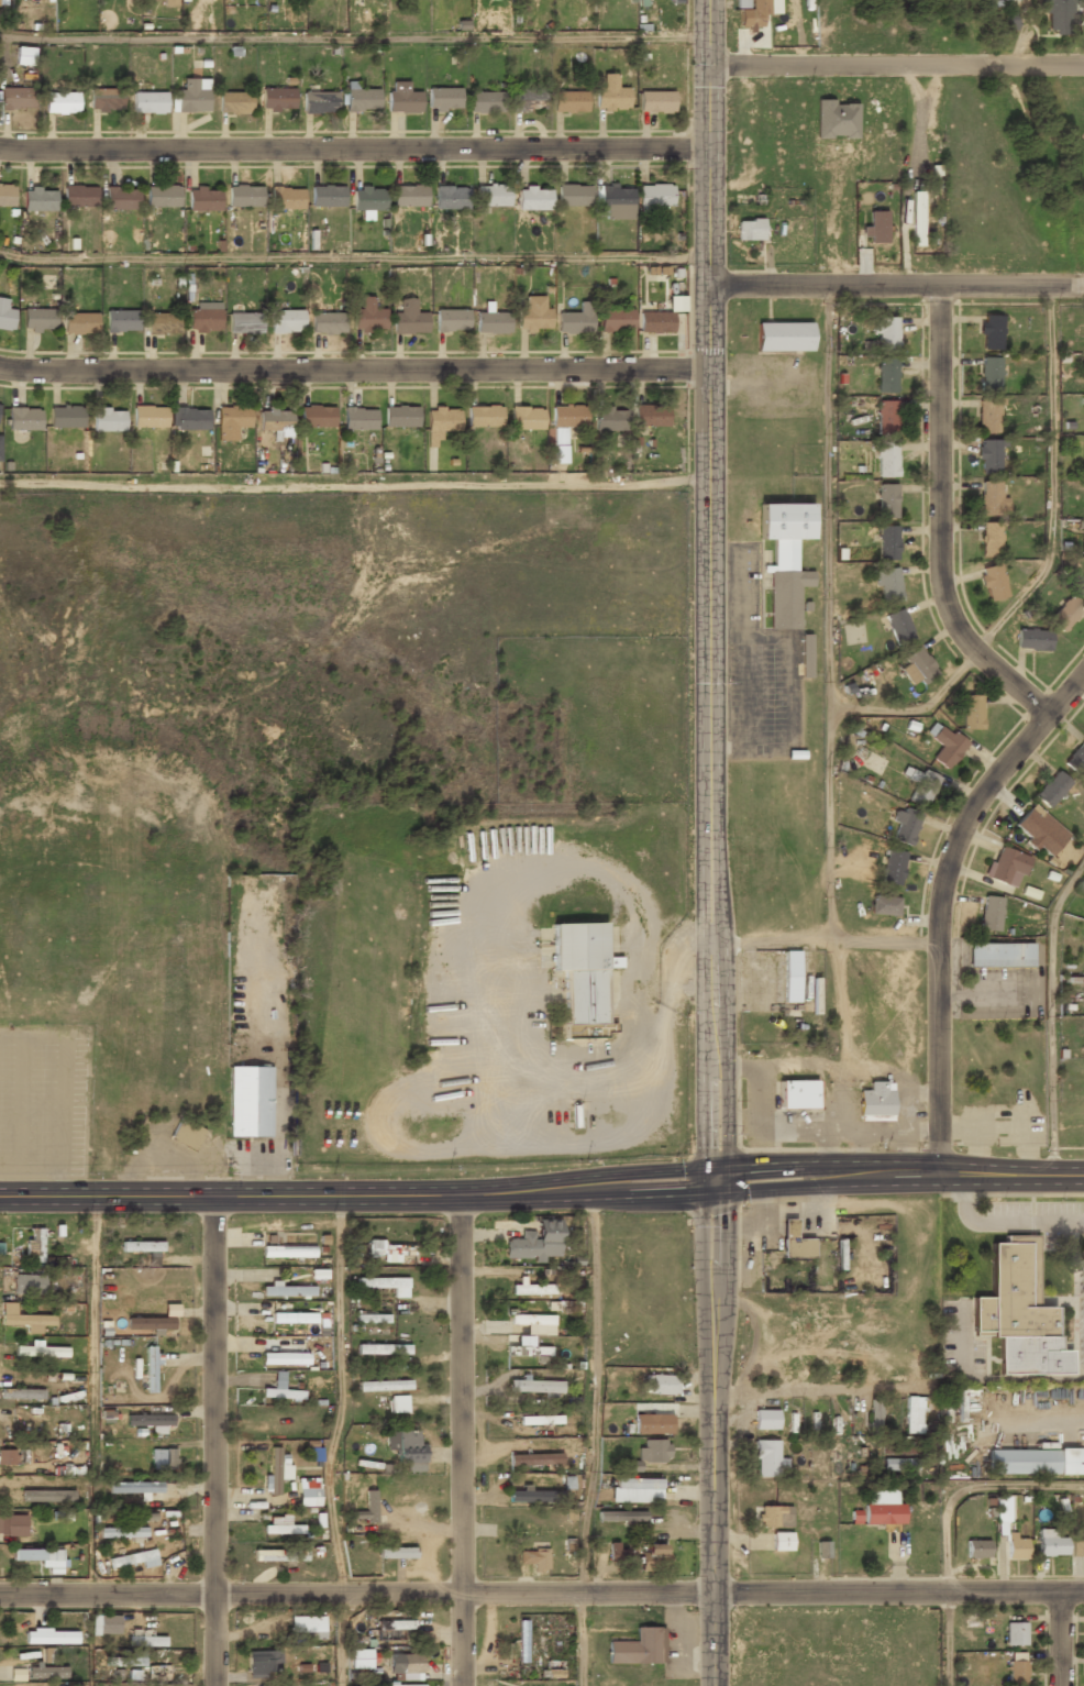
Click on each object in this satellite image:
building: (170, 3)
building: (752, 13)
building: (1057, 15)
building: (1011, 19)
road: (353, 37)
building: (25, 55)
road: (896, 66)
road: (708, 75)
building: (610, 95)
building: (191, 96)
building: (401, 97)
building: (443, 97)
building: (361, 98)
building: (15, 99)
building: (277, 99)
building: (529, 99)
building: (104, 100)
building: (485, 100)
building: (655, 100)
building: (319, 101)
building: (569, 101)
building: (234, 102)
building: (60, 103)
building: (148, 103)
building: (836, 119)
road: (353, 150)
building: (491, 194)
building: (654, 195)
building: (7, 196)
building: (244, 196)
building: (327, 196)
building: (409, 196)
building: (451, 196)
building: (573, 196)
building: (80, 197)
building: (162, 197)
building: (203, 198)
building: (286, 198)
building: (369, 198)
building: (533, 198)
building: (122, 199)
building: (40, 200)
building: (616, 202)
building: (916, 218)
building: (877, 227)
building: (748, 229)
road: (354, 258)
road: (896, 286)
building: (5, 315)
building: (368, 315)
building: (533, 315)
building: (408, 318)
building: (204, 319)
building: (575, 319)
building: (38, 320)
building: (122, 320)
building: (451, 320)
building: (615, 320)
building: (655, 321)
building: (80, 322)
building: (162, 322)
building: (286, 322)
building: (491, 322)
building: (244, 323)
building: (327, 323)
building: (885, 332)
building: (989, 332)
building: (783, 337)
road: (354, 370)
building: (988, 373)
building: (885, 375)
building: (0, 404)
building: (650, 415)
building: (988, 415)
building: (317, 416)
building: (400, 416)
building: (484, 416)
building: (886, 416)
building: (66, 417)
building: (148, 417)
building: (567, 417)
building: (189, 418)
building: (358, 418)
building: (527, 418)
building: (609, 418)
building: (24, 419)
building: (108, 420)
building: (275, 420)
building: (231, 421)
building: (441, 421)
building: (561, 444)
building: (0, 449)
building: (988, 455)
building: (886, 459)
road: (354, 486)
building: (991, 497)
building: (886, 498)
road: (940, 521)
building: (989, 538)
building: (886, 541)
building: (784, 558)
road: (1044, 565)
building: (993, 581)
building: (887, 583)
building: (1081, 586)
building: (1065, 611)
road: (828, 613)
building: (898, 627)
building: (1032, 638)
building: (805, 655)
road: (709, 663)
building: (918, 665)
parking lot: (756, 668)
building: (972, 710)
building: (944, 745)
building: (1075, 758)
building: (920, 785)
building: (1051, 789)
building: (904, 827)
building: (1038, 831)
building: (893, 867)
building: (1006, 867)
road: (939, 900)
building: (883, 905)
building: (989, 913)
road: (823, 939)
building: (998, 955)
building: (582, 973)
building: (790, 977)
road: (1049, 1013)
building: (796, 1095)
parking lot: (45, 1099)
building: (250, 1102)
building: (874, 1103)
building: (186, 1136)
road: (542, 1189)
building: (535, 1242)
building: (794, 1242)
building: (34, 1245)
building: (141, 1246)
building: (287, 1250)
building: (388, 1252)
building: (386, 1285)
building: (27, 1286)
building: (533, 1290)
building: (287, 1291)
building: (1018, 1313)
building: (22, 1318)
building: (294, 1319)
building: (372, 1319)
building: (532, 1323)
building: (148, 1325)
building: (381, 1348)
building: (527, 1349)
building: (285, 1359)
building: (151, 1369)
building: (384, 1385)
building: (661, 1385)
building: (534, 1386)
road: (594, 1389)
building: (279, 1390)
building: (21, 1395)
road: (339, 1396)
building: (397, 1403)
building: (874, 1414)
building: (912, 1415)
building: (540, 1420)
building: (764, 1420)
building: (150, 1421)
building: (651, 1424)
road: (712, 1431)
road: (461, 1440)
road: (214, 1441)
building: (405, 1444)
building: (900, 1450)
building: (653, 1451)
building: (9, 1458)
building: (535, 1458)
building: (766, 1458)
building: (163, 1459)
building: (1036, 1463)
building: (899, 1464)
building: (276, 1468)
road: (967, 1486)
building: (134, 1487)
building: (635, 1490)
building: (308, 1492)
building: (542, 1494)
building: (878, 1508)
building: (367, 1509)
building: (1002, 1516)
building: (621, 1517)
building: (773, 1517)
building: (12, 1527)
building: (283, 1529)
building: (121, 1533)
building: (781, 1541)
building: (1049, 1544)
building: (1077, 1547)
building: (825, 1549)
building: (976, 1549)
building: (612, 1552)
building: (396, 1553)
building: (276, 1556)
building: (38, 1557)
building: (652, 1557)
building: (131, 1560)
building: (533, 1560)
road: (541, 1593)
building: (104, 1626)
building: (395, 1626)
building: (307, 1627)
building: (1015, 1634)
building: (51, 1637)
road: (582, 1639)
road: (944, 1639)
road: (1059, 1639)
building: (145, 1640)
road: (338, 1640)
building: (522, 1642)
building: (637, 1646)
building: (27, 1651)
building: (47, 1654)
building: (358, 1660)
building: (263, 1664)
building: (406, 1666)
building: (553, 1668)
building: (47, 1672)
building: (156, 1673)
building: (1016, 1673)
building: (401, 1685)

